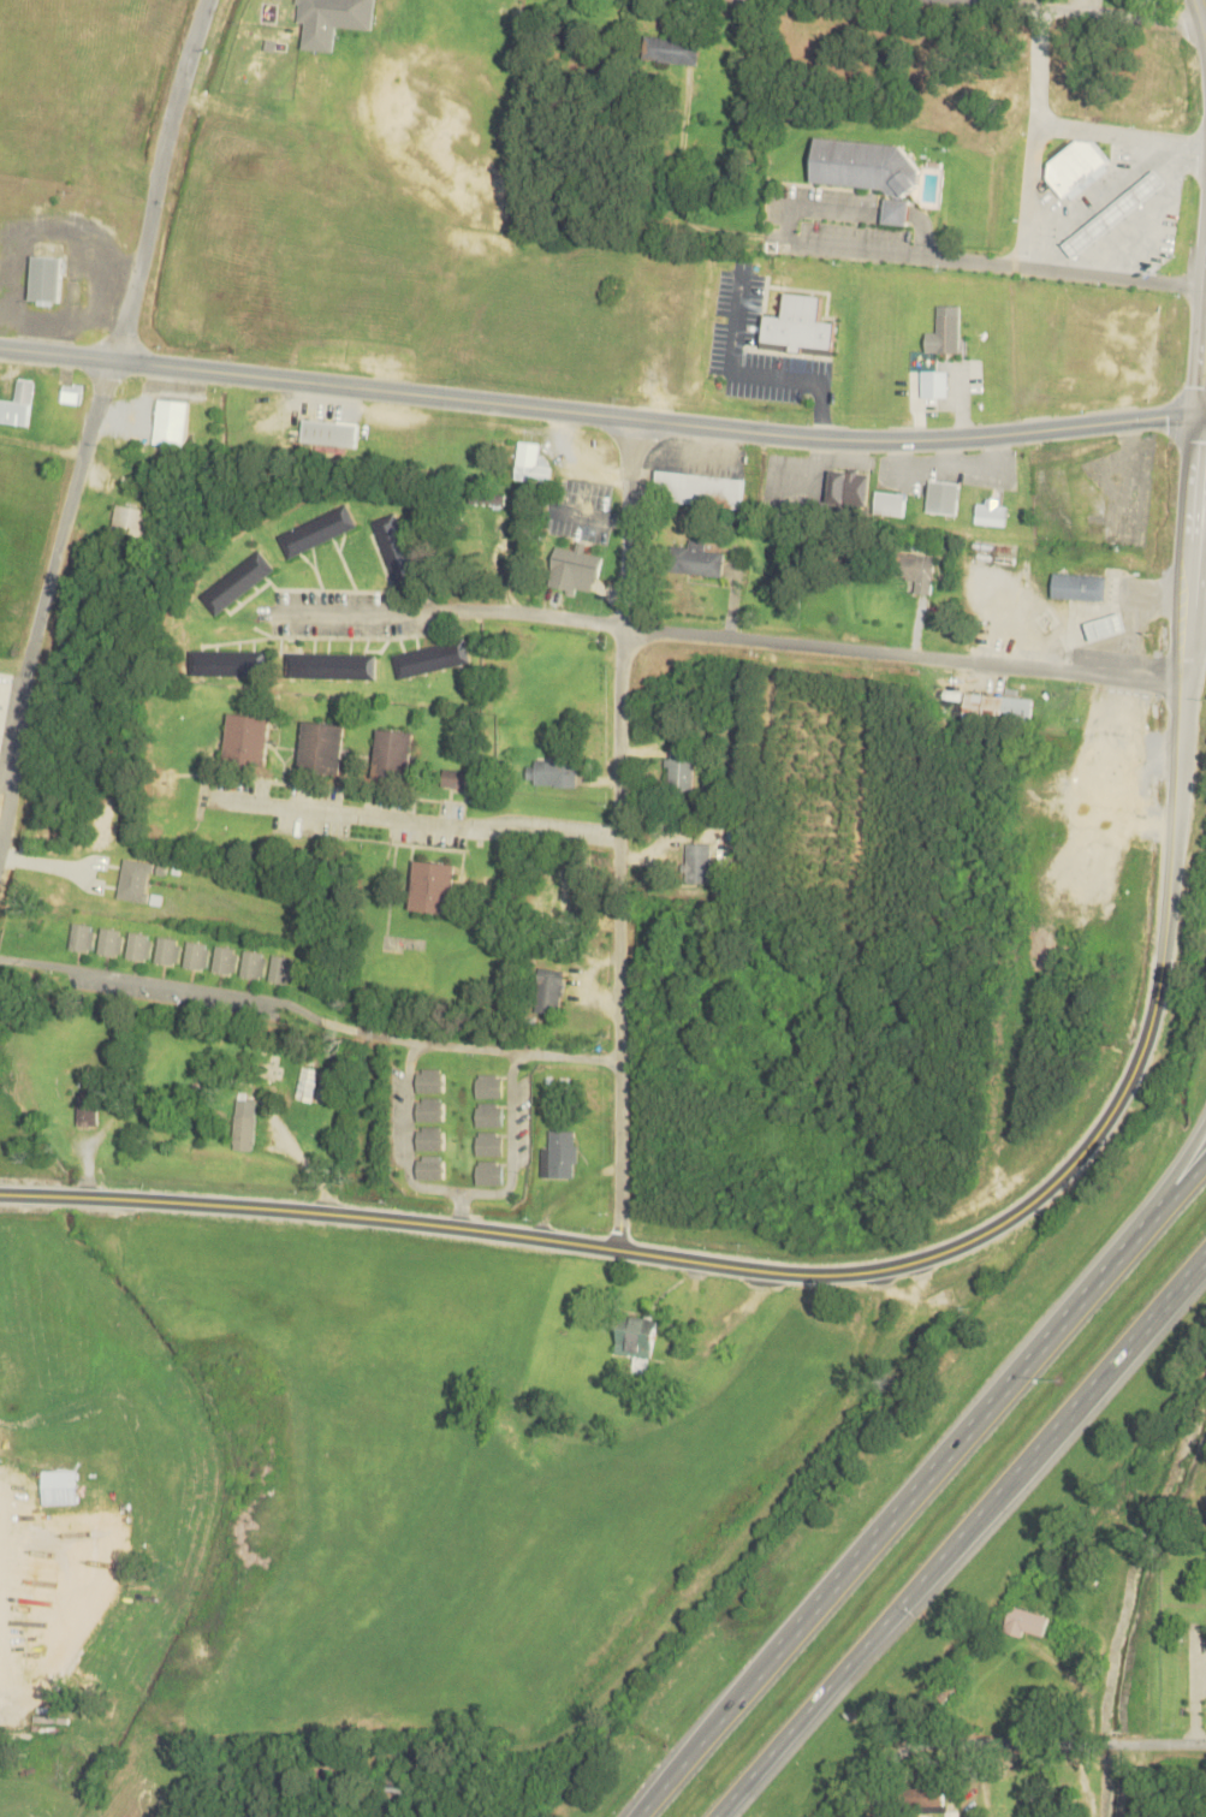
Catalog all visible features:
road: (1112, 8)
road: (1201, 11)
road: (1205, 18)
building: (331, 20)
building: (665, 48)
road: (1062, 125)
building: (865, 167)
building: (1077, 168)
road: (156, 179)
road: (1030, 195)
road: (815, 204)
building: (895, 212)
building: (1113, 214)
gas station: (1113, 214)
parking lot: (833, 216)
road: (915, 216)
road: (840, 245)
road: (1057, 271)
building: (42, 275)
building: (798, 327)
building: (943, 334)
road: (1201, 349)
building: (70, 391)
building: (17, 400)
road: (1201, 412)
road: (596, 415)
road: (1201, 415)
building: (170, 421)
building: (327, 429)
building: (529, 461)
building: (699, 486)
building: (846, 486)
road: (1192, 486)
building: (941, 495)
building: (487, 497)
building: (886, 500)
building: (987, 510)
building: (132, 516)
building: (315, 529)
road: (1196, 536)
building: (394, 547)
building: (696, 557)
building: (575, 564)
building: (913, 568)
building: (237, 581)
road: (1187, 586)
building: (1081, 587)
road: (43, 600)
road: (345, 611)
parking lot: (347, 611)
building: (1106, 627)
road: (801, 642)
road: (1186, 647)
building: (429, 655)
building: (227, 661)
building: (331, 663)
building: (994, 705)
building: (244, 737)
building: (319, 744)
building: (391, 752)
building: (1107, 754)
building: (679, 765)
building: (554, 766)
building: (453, 776)
road: (412, 818)
road: (618, 833)
building: (697, 859)
building: (433, 884)
building: (564, 890)
building: (81, 934)
building: (111, 939)
building: (137, 944)
building: (166, 948)
building: (196, 952)
building: (224, 956)
road: (31, 961)
building: (253, 961)
building: (281, 967)
road: (171, 984)
building: (549, 988)
parking lot: (172, 994)
road: (446, 1044)
building: (428, 1080)
building: (308, 1083)
building: (488, 1085)
building: (429, 1109)
building: (87, 1111)
building: (488, 1115)
parking lot: (398, 1117)
parking lot: (519, 1123)
building: (246, 1126)
road: (409, 1136)
building: (429, 1138)
building: (488, 1144)
road: (511, 1144)
building: (558, 1153)
building: (429, 1166)
road: (1172, 1170)
building: (488, 1171)
road: (71, 1195)
road: (461, 1207)
road: (873, 1269)
building: (636, 1337)
street lamp: (1056, 1378)
road: (921, 1489)
road: (958, 1534)
road: (718, 1564)
street lamp: (926, 1613)
building: (1021, 1619)
building: (944, 1688)
road: (1052, 1740)
building: (326, 1770)
road: (884, 1781)
building: (394, 1794)
building: (922, 1797)

